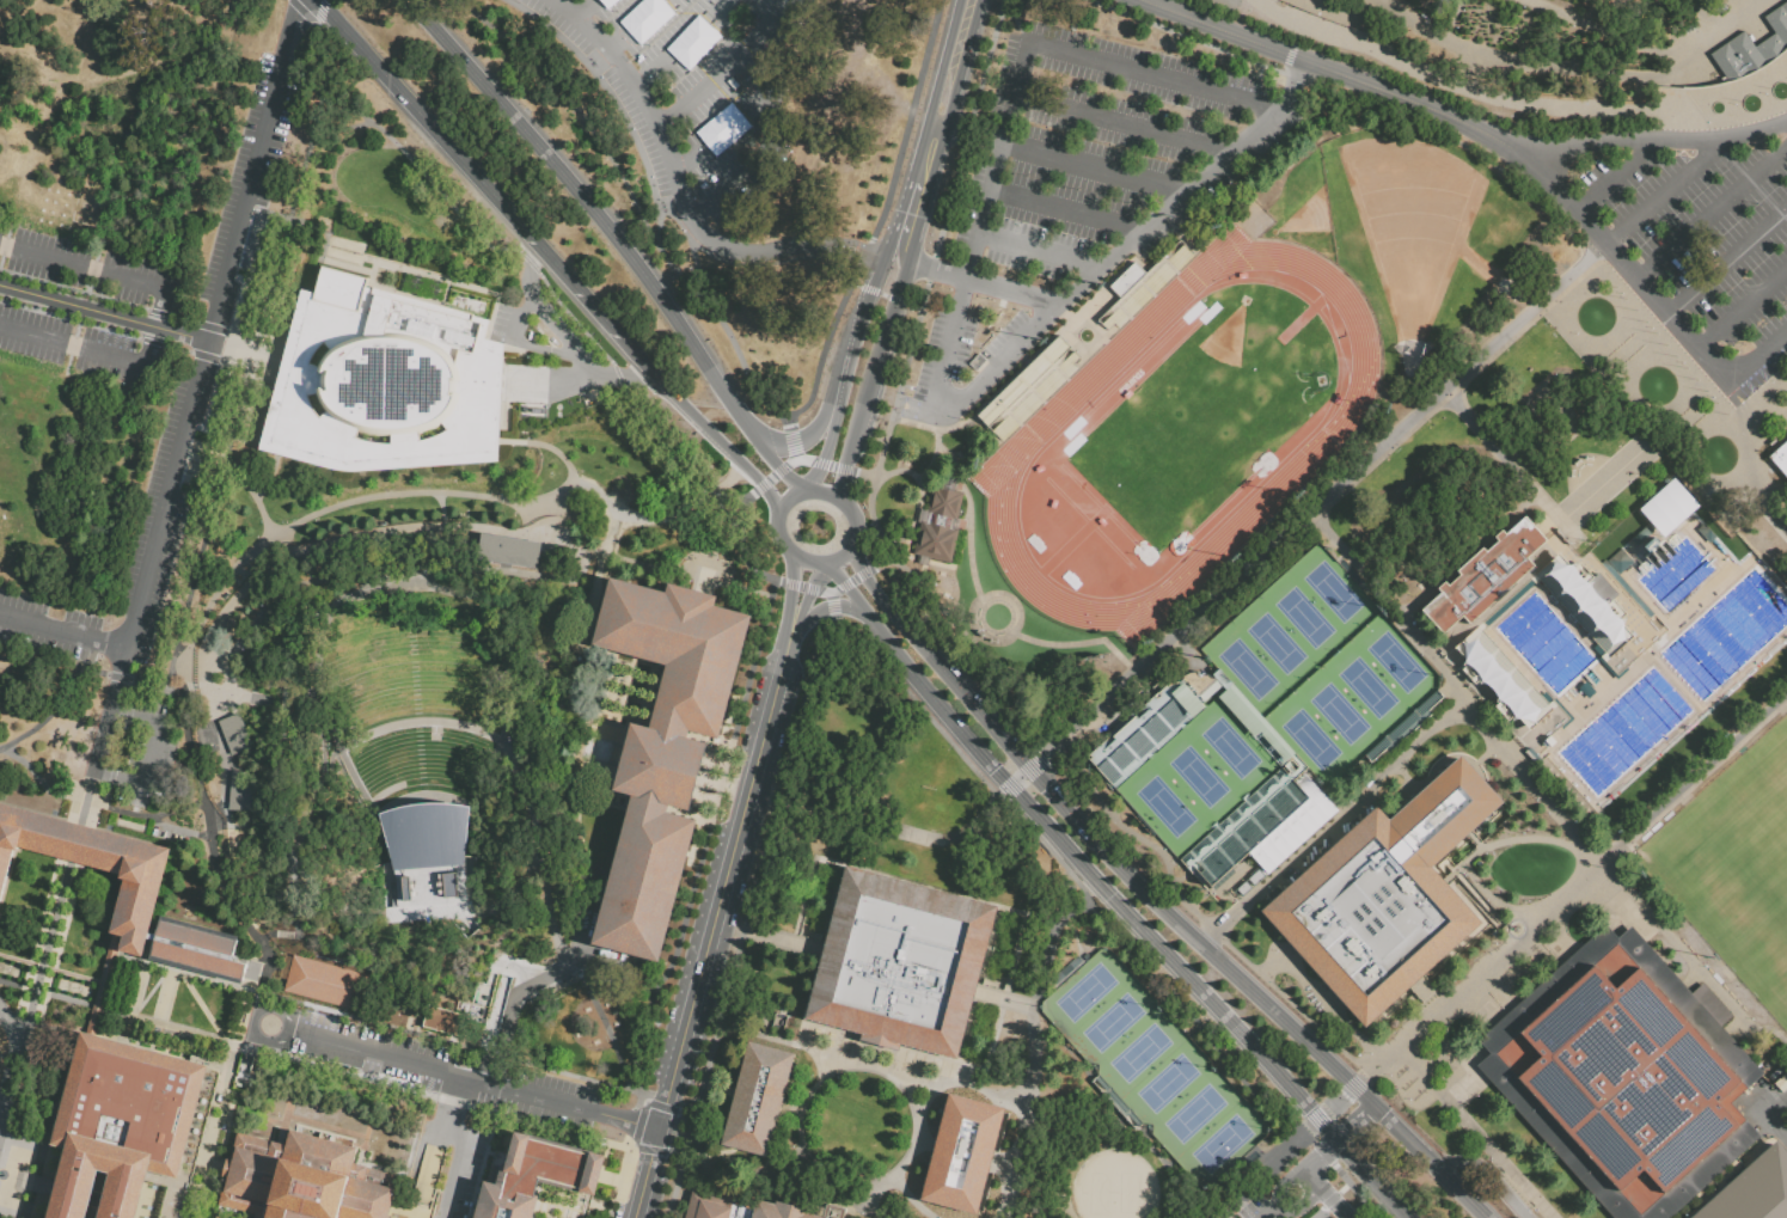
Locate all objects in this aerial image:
road: (547, 1)
road: (304, 12)
road: (319, 12)
road: (588, 13)
road: (962, 24)
road: (636, 30)
road: (1299, 31)
road: (1193, 38)
building: (1559, 44)
road: (680, 45)
building: (1752, 53)
road: (1289, 56)
road: (1130, 68)
road: (1326, 68)
road: (724, 69)
road: (1446, 76)
road: (945, 88)
road: (559, 90)
parking lot: (699, 93)
road: (1634, 98)
road: (623, 117)
road: (738, 117)
road: (1008, 120)
road: (1122, 124)
road: (967, 136)
park: (706, 139)
road: (1646, 145)
road: (928, 157)
parking lot: (270, 165)
road: (995, 169)
road: (1093, 170)
parking lot: (234, 176)
road: (1615, 178)
road: (680, 188)
parking lot: (1075, 191)
road: (718, 192)
road: (1664, 194)
road: (588, 201)
road: (908, 209)
road: (1064, 213)
road: (881, 216)
road: (1713, 216)
park: (1406, 232)
road: (936, 239)
parking lot: (1695, 247)
road: (898, 249)
road: (1038, 252)
street lamp: (359, 253)
road: (545, 257)
road: (1620, 261)
road: (1727, 262)
parking lot: (87, 267)
road: (856, 283)
road: (980, 283)
building: (1140, 283)
road: (557, 284)
road: (870, 289)
road: (869, 292)
road: (886, 295)
road: (899, 300)
road: (913, 304)
road: (1743, 308)
road: (105, 310)
road: (711, 310)
track: (1330, 313)
road: (1046, 316)
road: (157, 318)
track: (1338, 332)
road: (573, 343)
road: (881, 344)
parking lot: (77, 347)
track: (1342, 349)
road: (1634, 351)
road: (1758, 359)
road: (844, 365)
building: (977, 368)
building: (384, 381)
road: (200, 385)
building: (1028, 387)
road: (837, 400)
street lamp: (549, 405)
road: (1762, 405)
park: (1208, 410)
road: (1664, 418)
road: (788, 423)
road: (914, 424)
road: (1677, 431)
stadium: (1179, 435)
track: (1028, 436)
road: (806, 437)
road: (794, 442)
road: (938, 443)
road: (796, 457)
building: (1780, 457)
road: (771, 458)
road: (824, 458)
road: (803, 459)
road: (1647, 460)
road: (792, 461)
road: (819, 461)
road: (1765, 463)
road: (832, 464)
road: (846, 467)
road: (781, 469)
road: (865, 475)
road: (771, 478)
parking lot: (152, 484)
road: (761, 486)
road: (826, 494)
road: (1322, 495)
road: (749, 496)
road: (788, 496)
road: (920, 501)
building: (1666, 507)
road: (1336, 516)
building: (941, 528)
road: (779, 534)
road: (968, 535)
road: (853, 540)
building: (506, 549)
road: (881, 562)
road: (806, 563)
road: (825, 567)
building: (311, 570)
road: (863, 570)
parking lot: (160, 575)
road: (690, 576)
road: (777, 579)
road: (852, 580)
road: (789, 581)
road: (798, 584)
road: (843, 584)
road: (809, 587)
park: (1332, 590)
road: (824, 592)
road: (833, 592)
road: (998, 593)
road: (831, 595)
road: (791, 598)
road: (803, 602)
road: (832, 607)
parking lot: (50, 608)
road: (820, 610)
park: (1303, 617)
road: (833, 622)
park: (1291, 629)
road: (63, 632)
building: (1622, 641)
road: (1093, 642)
park: (1274, 642)
parking lot: (47, 647)
park: (1395, 661)
park: (1246, 668)
park: (1366, 686)
park: (1354, 697)
road: (63, 702)
park: (1338, 711)
building: (1404, 728)
building: (231, 732)
park: (1309, 739)
building: (663, 746)
park: (1229, 746)
road: (152, 754)
parking lot: (147, 755)
road: (1033, 763)
park: (1777, 763)
road: (721, 766)
park: (1198, 775)
road: (1018, 777)
park: (1195, 777)
stadium: (1216, 782)
building: (1279, 784)
road: (1689, 784)
road: (1006, 788)
building: (239, 789)
road: (1089, 795)
road: (88, 801)
park: (1163, 804)
road: (97, 806)
road: (881, 828)
road: (1330, 828)
building: (1289, 839)
road: (77, 846)
building: (424, 847)
road: (1485, 847)
building: (91, 867)
park: (1739, 875)
road: (1072, 881)
road: (975, 896)
building: (1387, 896)
road: (1110, 898)
road: (1152, 898)
road: (1069, 912)
road: (748, 922)
road: (711, 930)
road: (246, 934)
road: (767, 937)
building: (200, 950)
parking lot: (693, 965)
street lamp: (532, 966)
building: (902, 966)
road: (1039, 974)
road: (1476, 974)
road: (180, 979)
building: (326, 980)
road: (215, 981)
road: (513, 991)
road: (36, 993)
park: (1085, 993)
road: (1006, 999)
road: (136, 1009)
road: (13, 1021)
road: (606, 1022)
road: (650, 1022)
building: (446, 1023)
park: (1113, 1027)
road: (453, 1039)
road: (795, 1047)
park: (1143, 1058)
road: (316, 1063)
parking lot: (416, 1063)
park: (1153, 1067)
road: (455, 1073)
building: (1627, 1083)
road: (1353, 1084)
road: (942, 1088)
park: (1167, 1088)
road: (645, 1095)
building: (755, 1097)
road: (1334, 1100)
building: (1115, 1102)
road: (1370, 1109)
road: (689, 1114)
park: (1197, 1118)
road: (1315, 1118)
road: (1012, 1120)
road: (1774, 1121)
road: (638, 1124)
road: (920, 1124)
road: (1352, 1126)
building: (128, 1128)
road: (1474, 1132)
road: (455, 1138)
road: (803, 1140)
park: (1224, 1145)
road: (966, 1150)
road: (1321, 1151)
building: (960, 1152)
road: (678, 1153)
road: (1263, 1165)
road: (1485, 1174)
building: (530, 1176)
road: (1302, 1180)
building: (306, 1181)
road: (622, 1183)
road: (759, 1183)
road: (891, 1183)
park: (1113, 1186)
road: (1344, 1187)
road: (1357, 1189)
building: (1755, 1191)
road: (1328, 1193)
road: (1330, 1198)
road: (930, 1204)
road: (1189, 1206)
building: (738, 1207)
building: (837, 1211)
road: (1315, 1211)
road: (1322, 1211)
road: (1217, 1214)
road: (1225, 1214)

